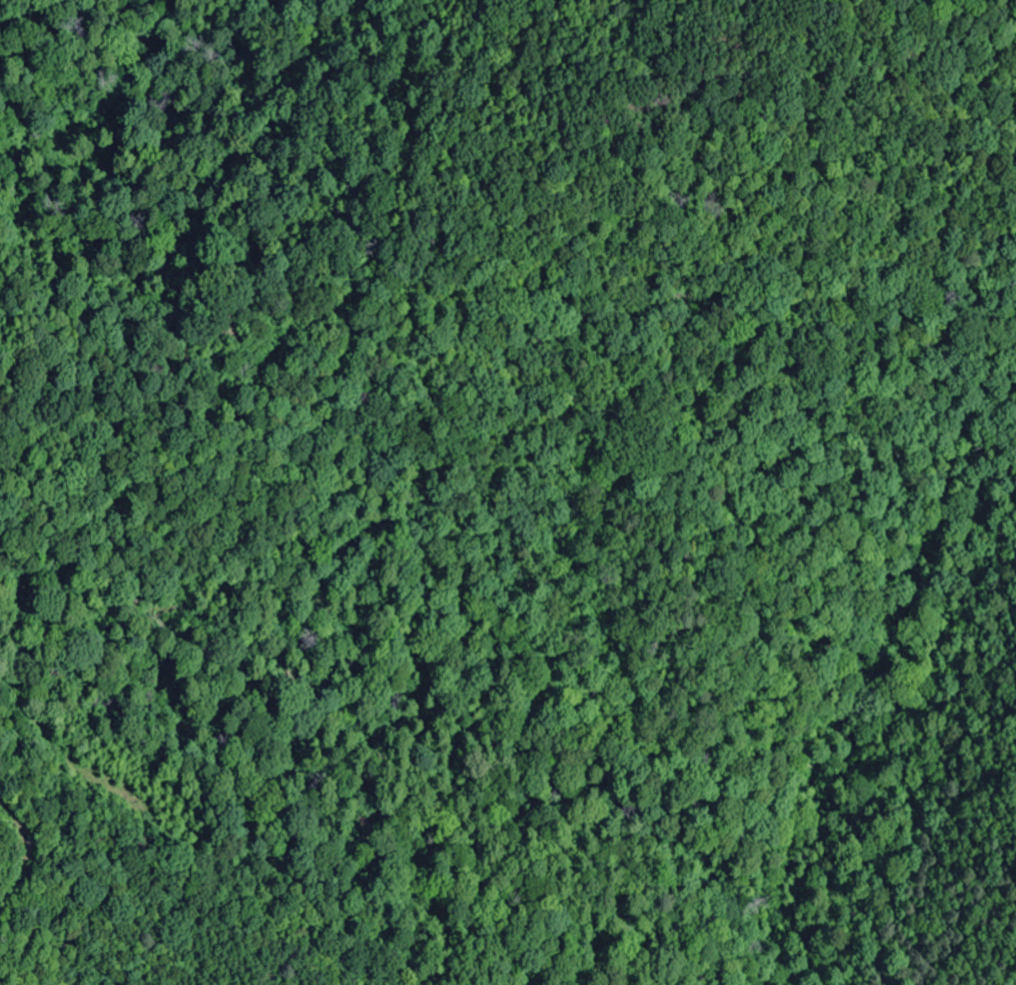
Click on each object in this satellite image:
road: (890, 135)

